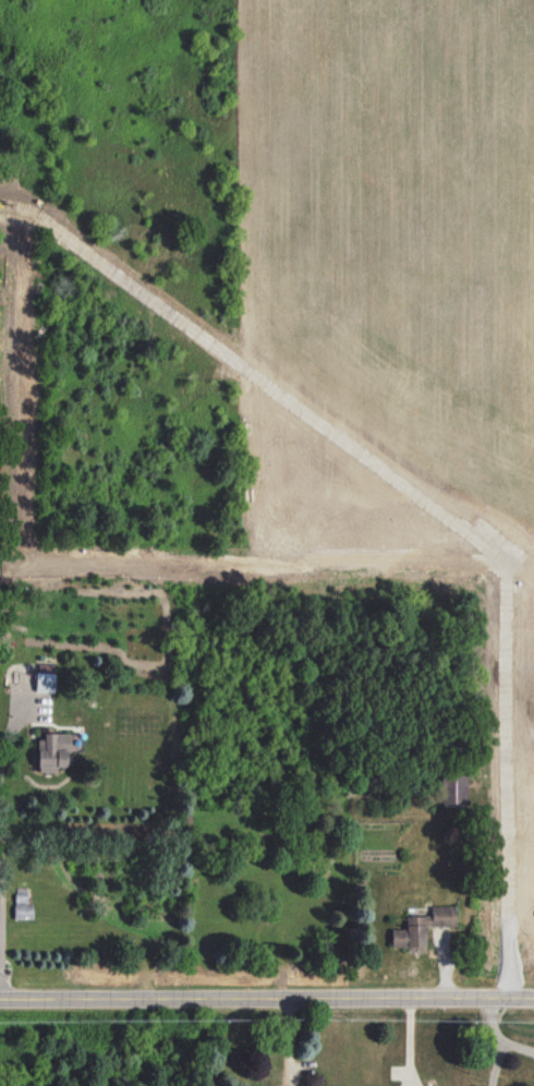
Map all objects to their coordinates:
building: (45, 677)
road: (7, 736)
building: (52, 751)
building: (454, 789)
building: (422, 927)
road: (266, 1000)
road: (498, 1036)
road: (409, 1043)
road: (495, 1063)

